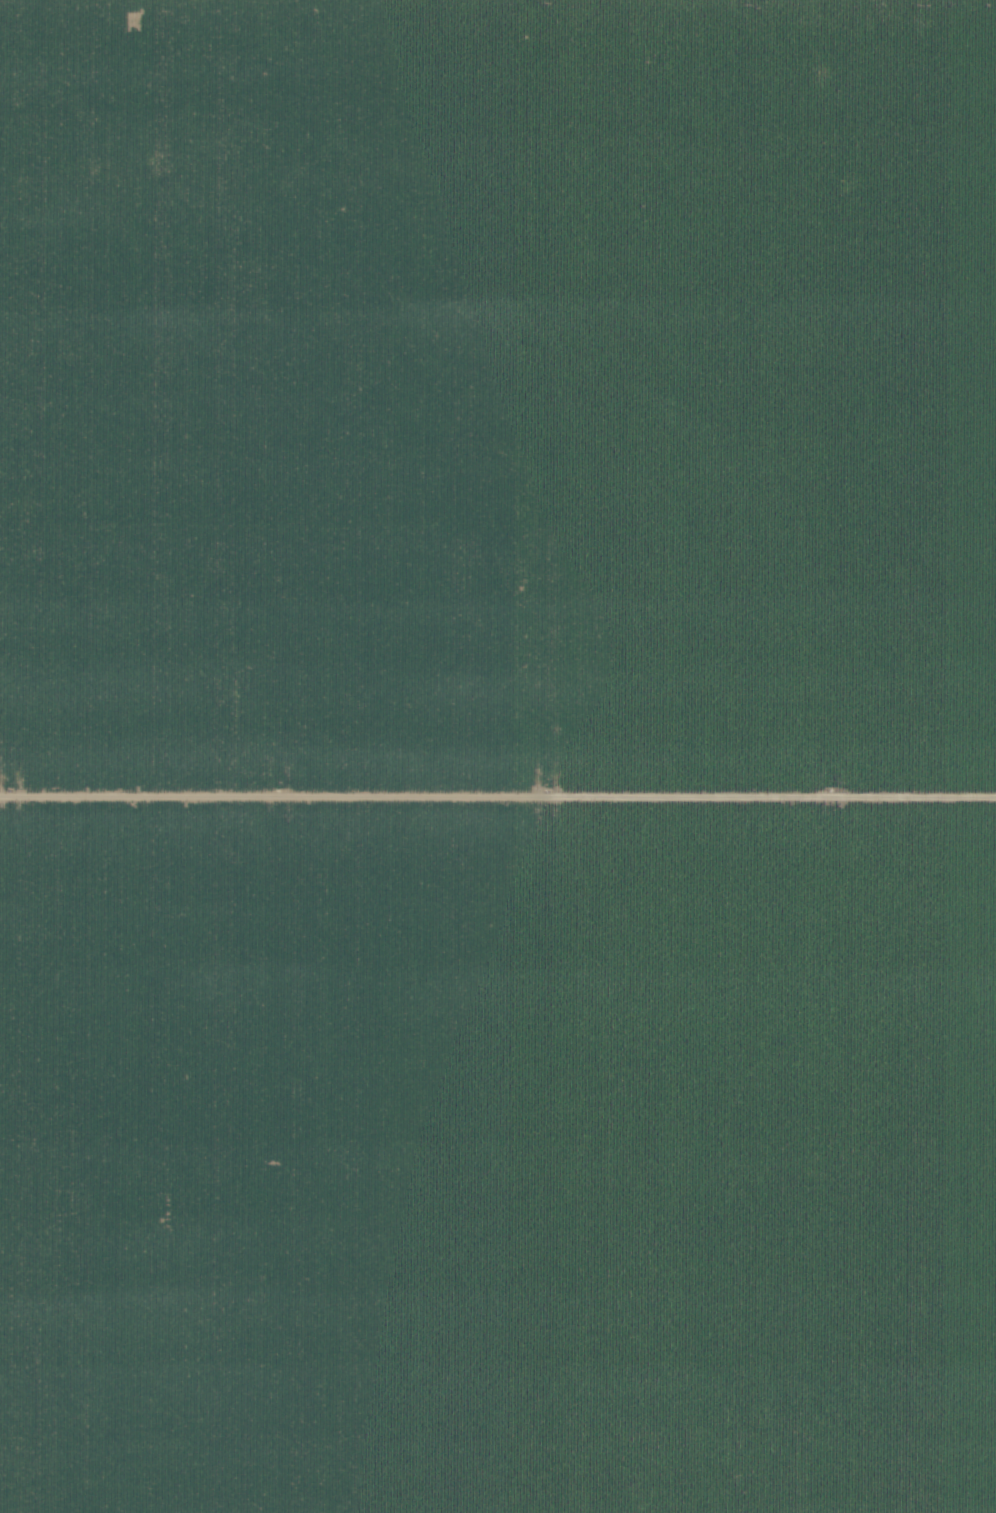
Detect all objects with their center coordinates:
crop: (498, 756)

